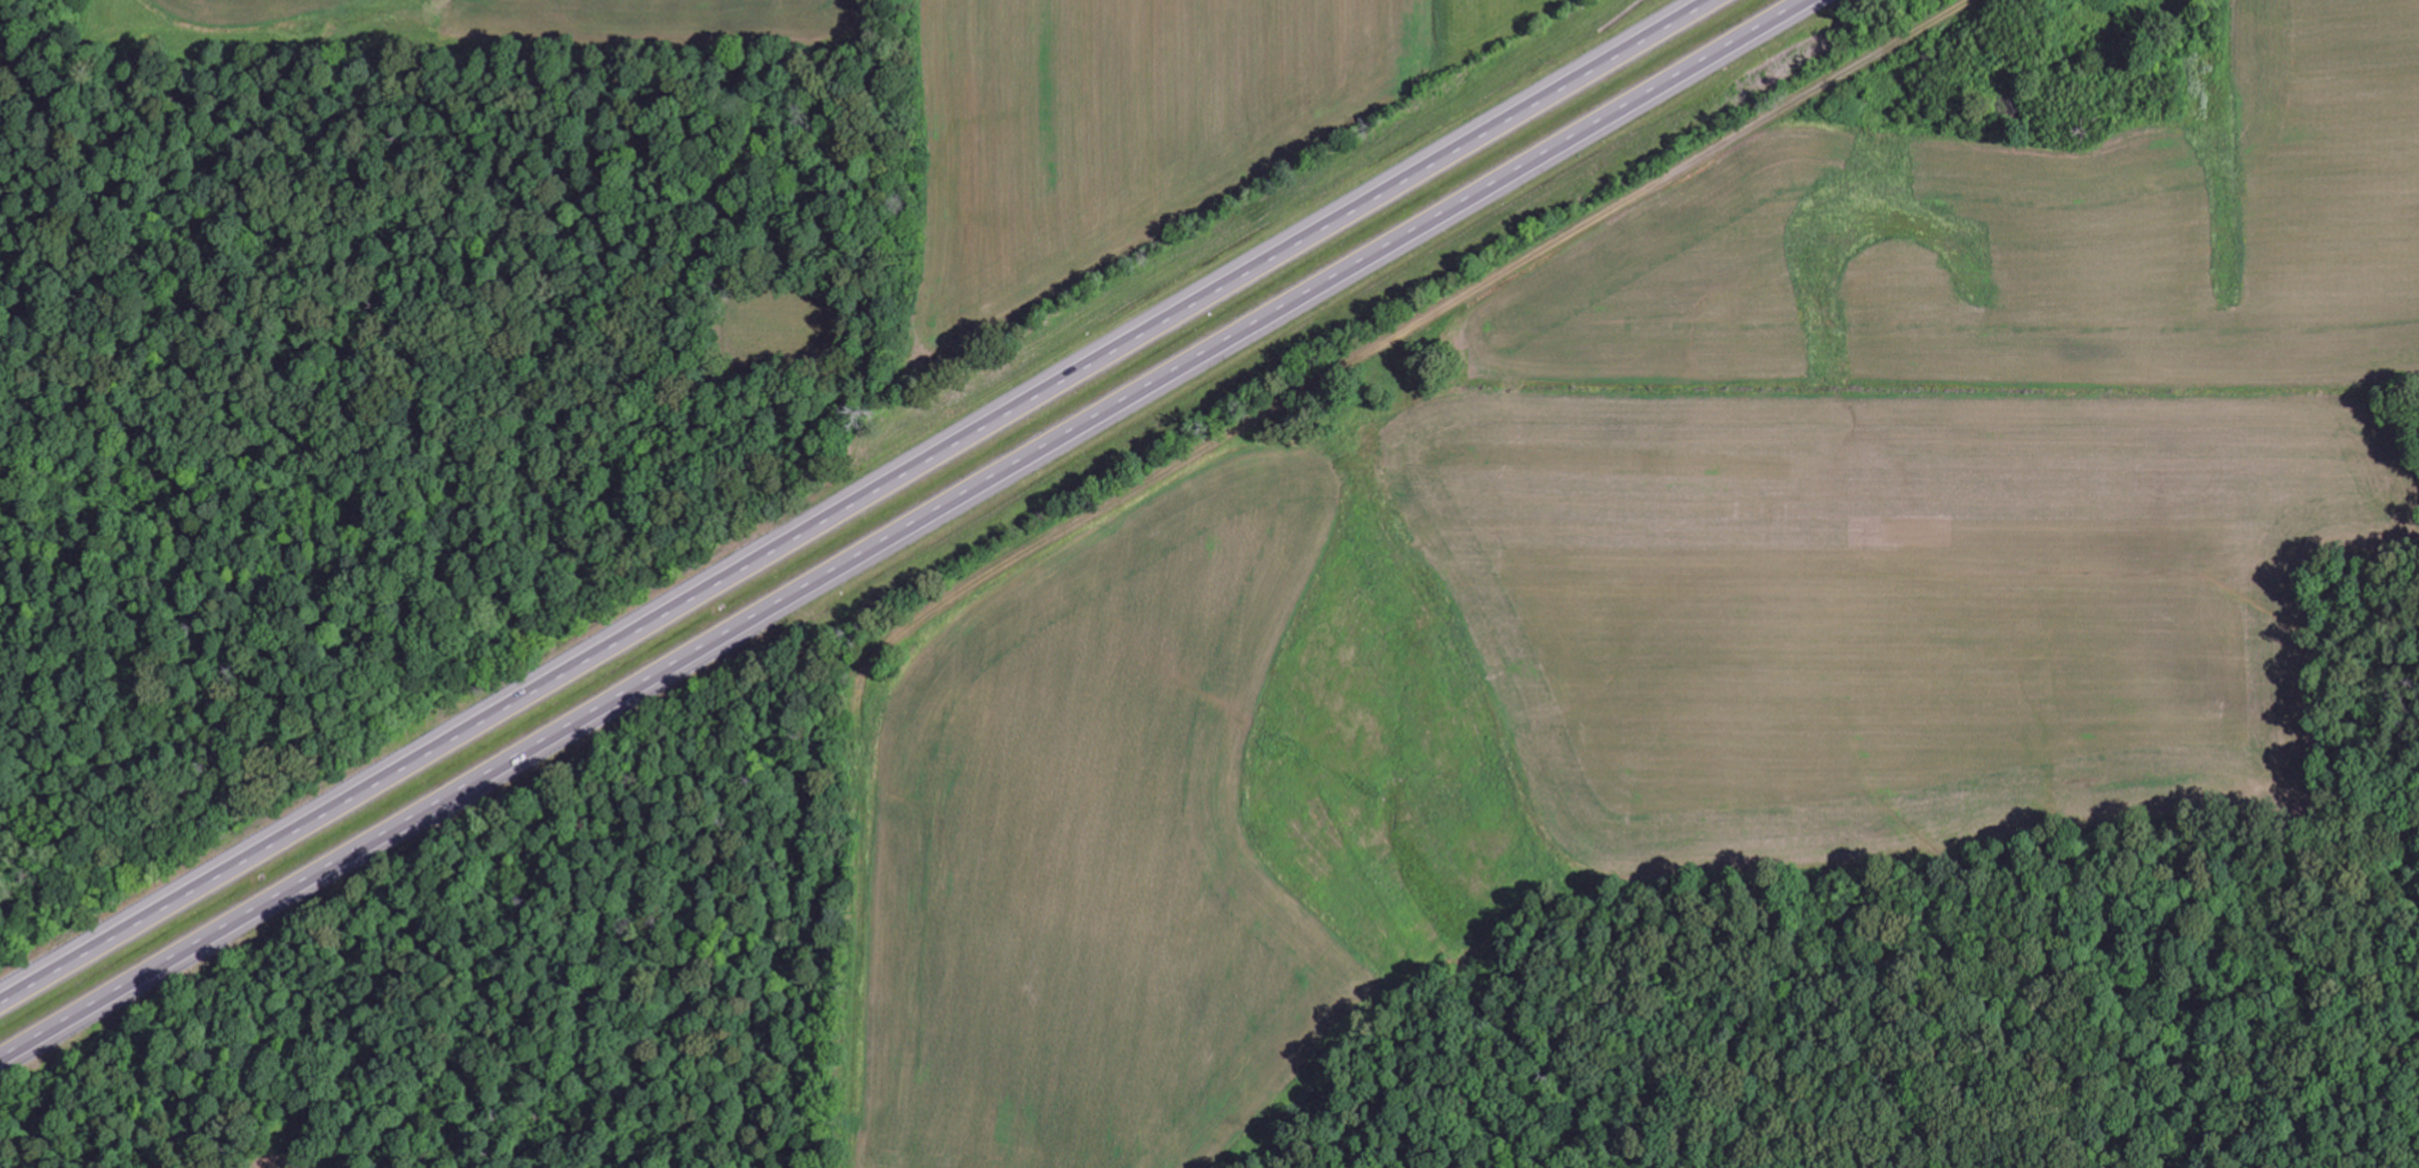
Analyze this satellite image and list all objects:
road: (1415, 318)
road: (851, 497)
road: (906, 530)

